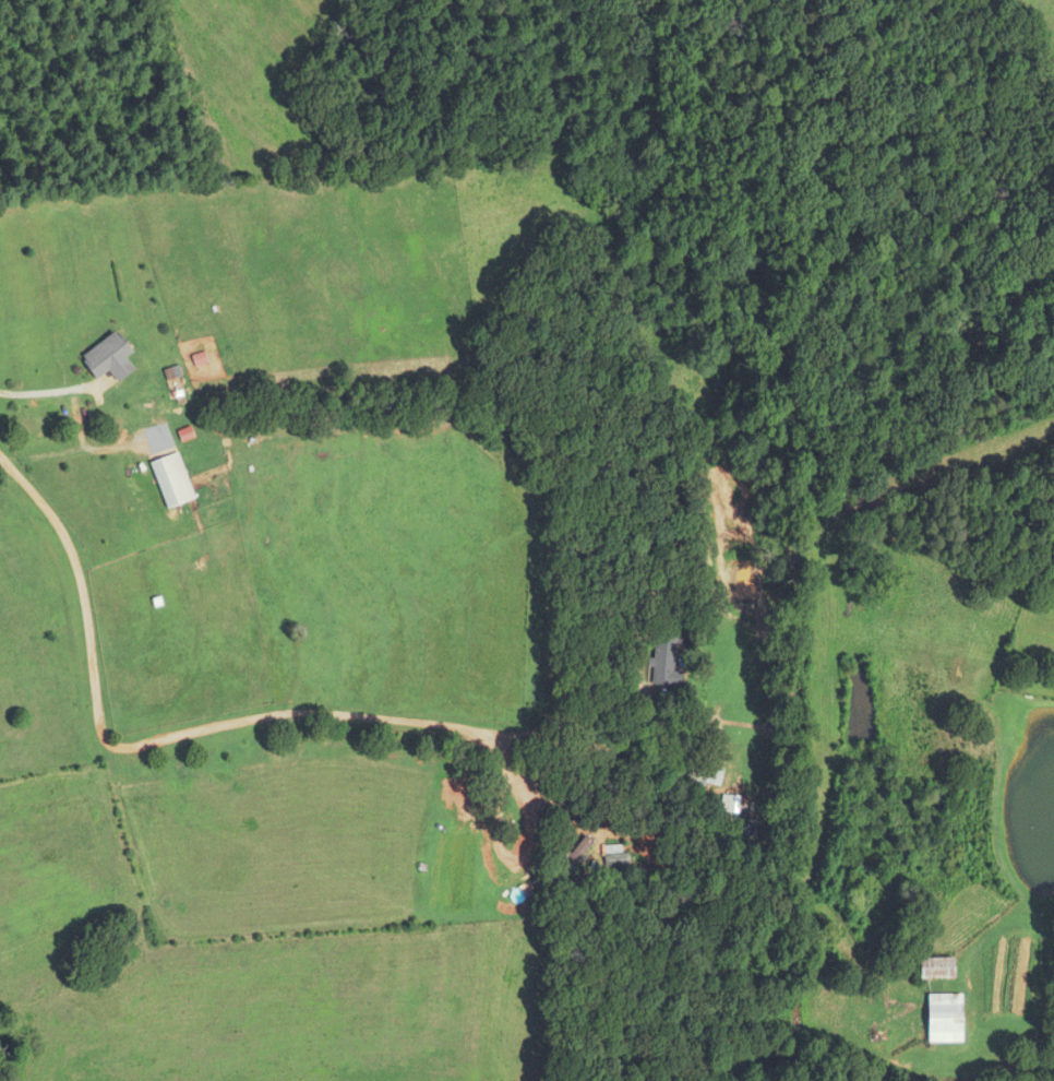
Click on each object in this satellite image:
building: (109, 359)
road: (46, 392)
road: (73, 452)
building: (171, 482)
building: (664, 664)
road: (644, 692)
road: (171, 735)
building: (709, 776)
building: (937, 970)
building: (945, 1019)

